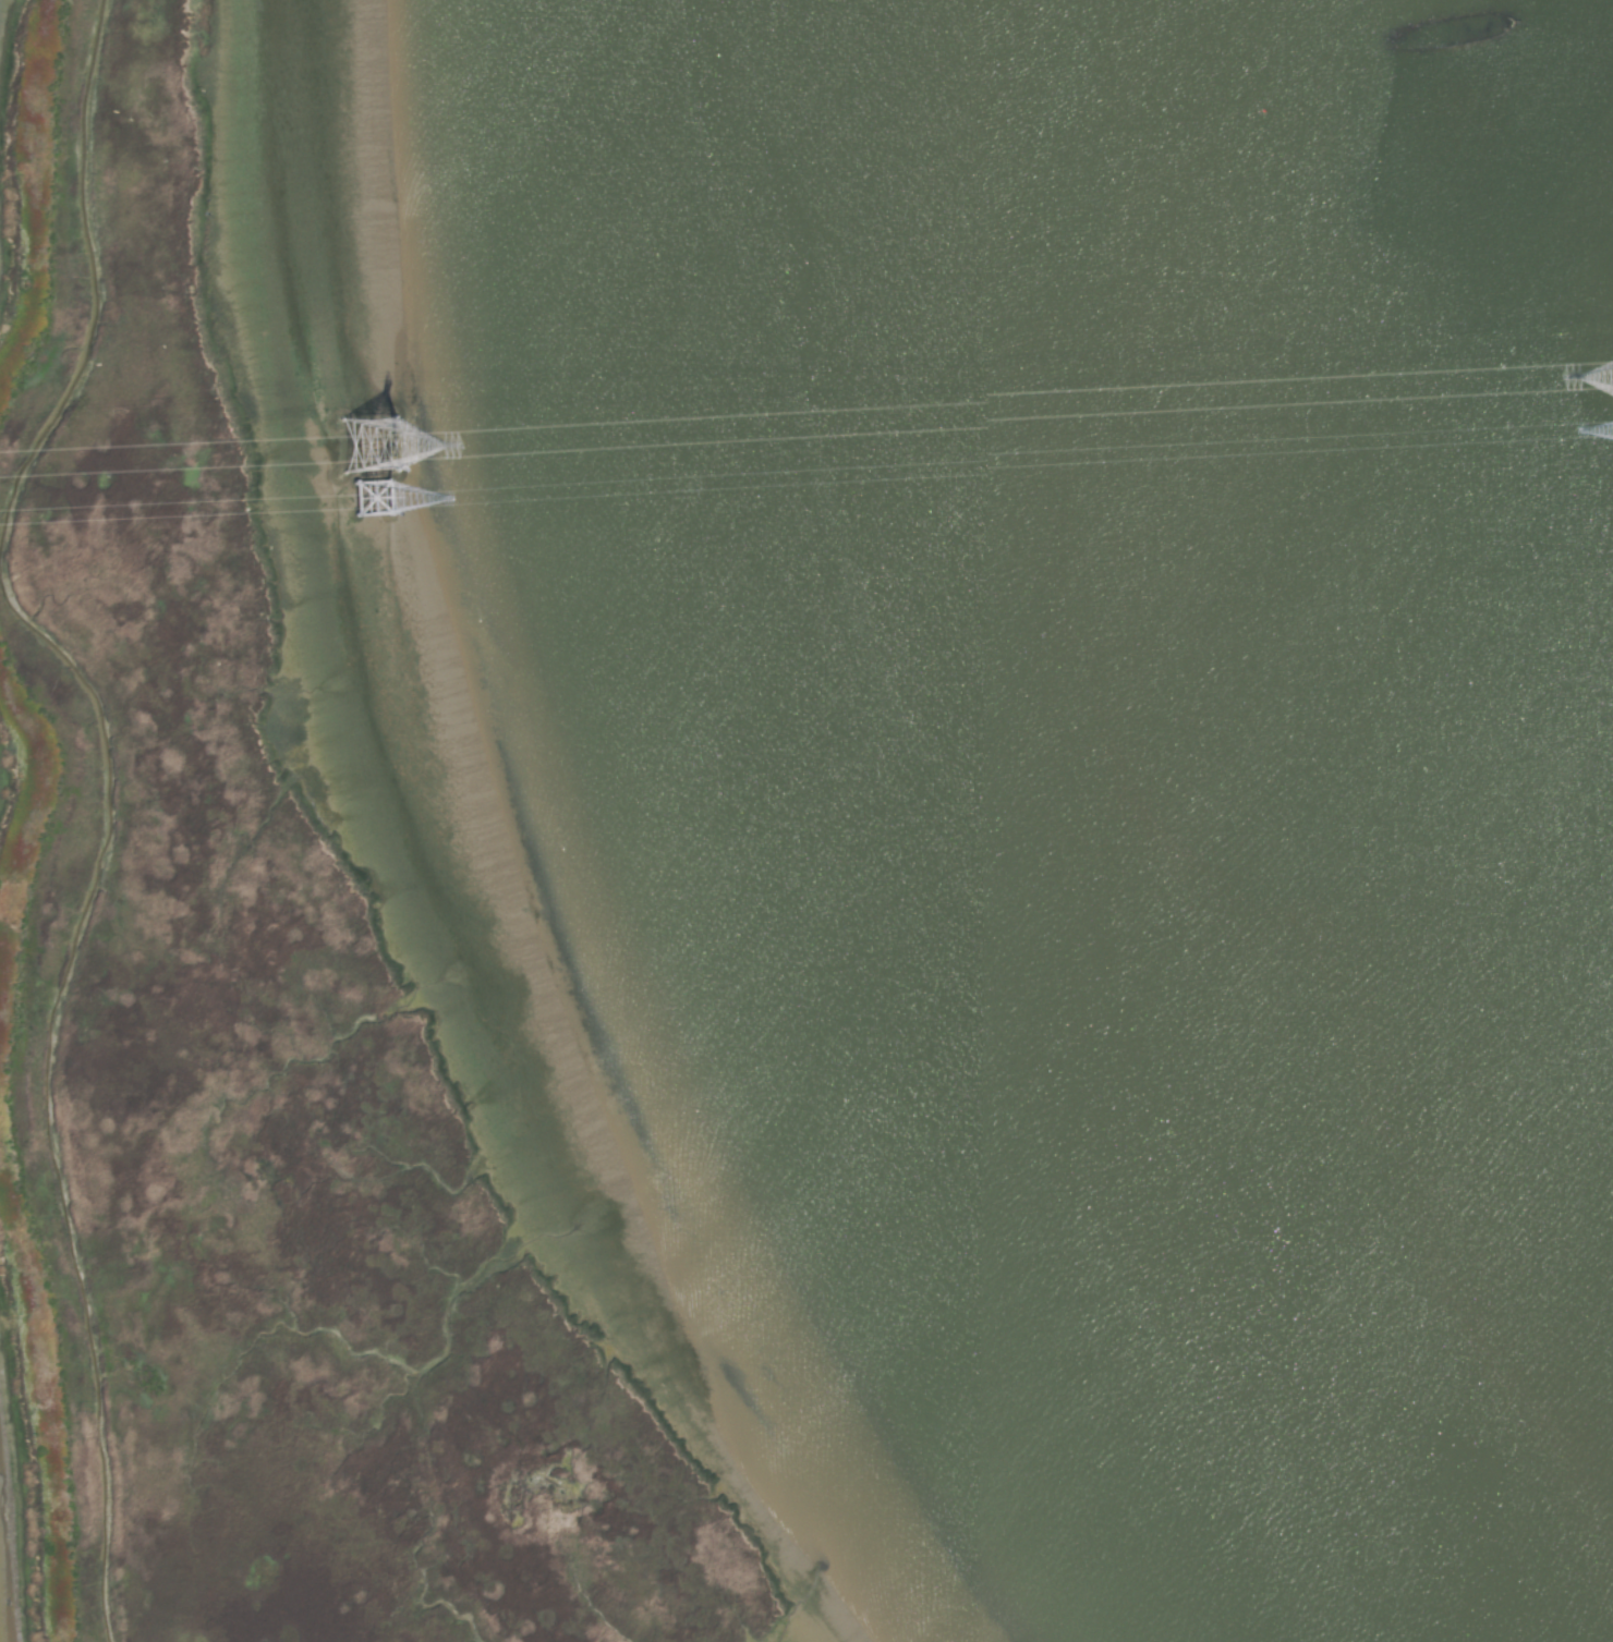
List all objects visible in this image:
power tower: (373, 450)
power tower: (373, 499)
river: (1202, 805)

